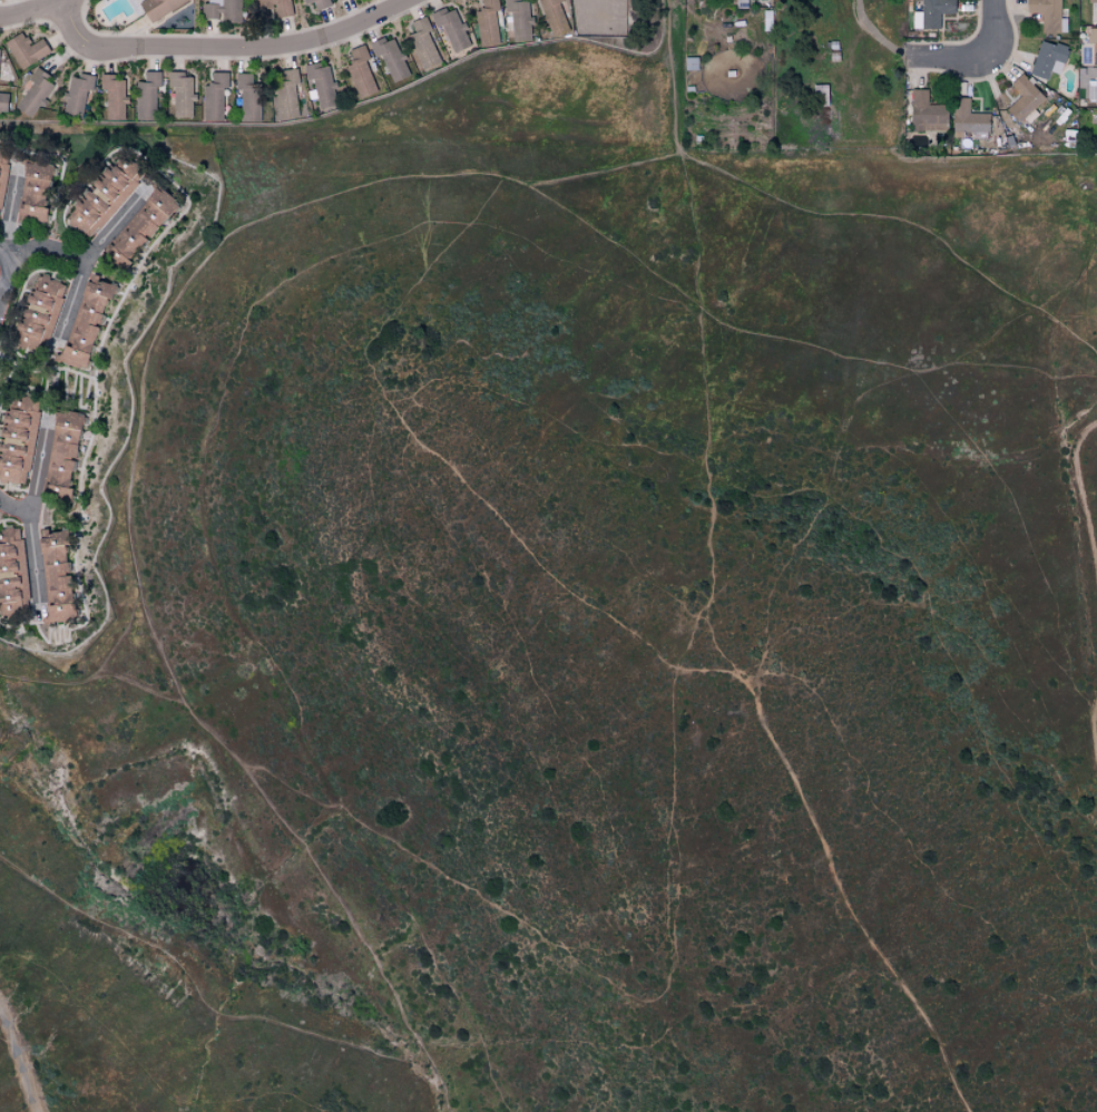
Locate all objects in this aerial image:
building: (335, 0)
building: (316, 3)
building: (740, 3)
building: (274, 7)
building: (156, 8)
building: (222, 10)
road: (33, 11)
building: (1093, 11)
building: (931, 13)
building: (1047, 14)
building: (551, 16)
building: (517, 19)
building: (486, 22)
building: (450, 28)
road: (995, 30)
road: (875, 35)
building: (1093, 41)
building: (421, 45)
road: (225, 48)
building: (23, 50)
building: (389, 57)
road: (948, 57)
building: (1047, 59)
building: (359, 71)
building: (320, 85)
building: (1091, 88)
building: (32, 94)
building: (76, 94)
building: (179, 95)
building: (145, 96)
building: (284, 96)
building: (112, 97)
building: (213, 97)
building: (247, 97)
building: (1022, 99)
building: (2, 101)
building: (924, 113)
building: (967, 117)
building: (1096, 131)
building: (2, 167)
building: (32, 191)
building: (101, 197)
road: (827, 209)
road: (9, 215)
building: (138, 227)
road: (25, 248)
road: (6, 251)
road: (85, 261)
building: (38, 313)
building: (84, 323)
road: (790, 341)
building: (17, 438)
building: (59, 456)
road: (38, 471)
road: (1083, 496)
road: (815, 506)
road: (30, 539)
road: (133, 552)
building: (12, 574)
building: (55, 577)
road: (709, 669)
road: (95, 677)
road: (548, 694)
road: (1095, 728)
road: (672, 751)
road: (843, 901)
road: (18, 1062)

